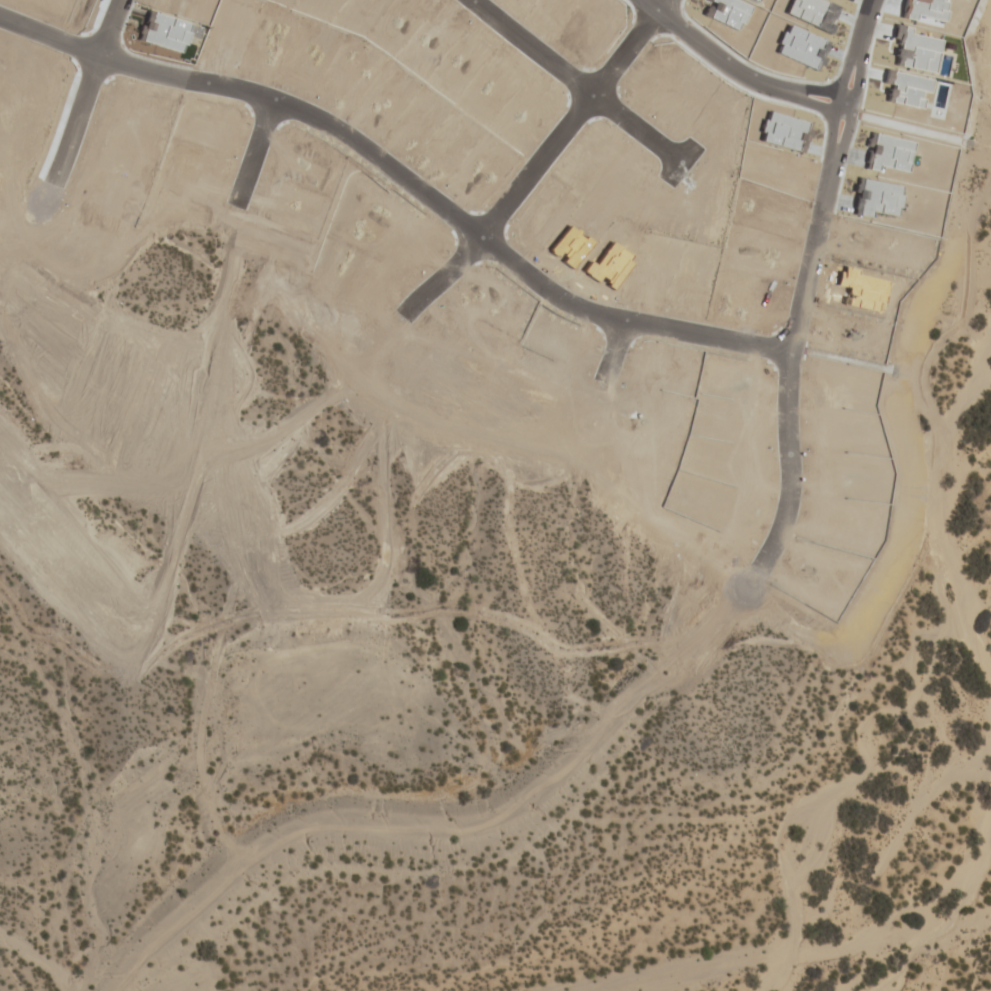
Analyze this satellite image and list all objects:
road: (658, 6)
road: (738, 72)
road: (577, 78)
road: (79, 100)
road: (853, 110)
road: (254, 150)
road: (534, 164)
road: (400, 176)
road: (786, 407)

